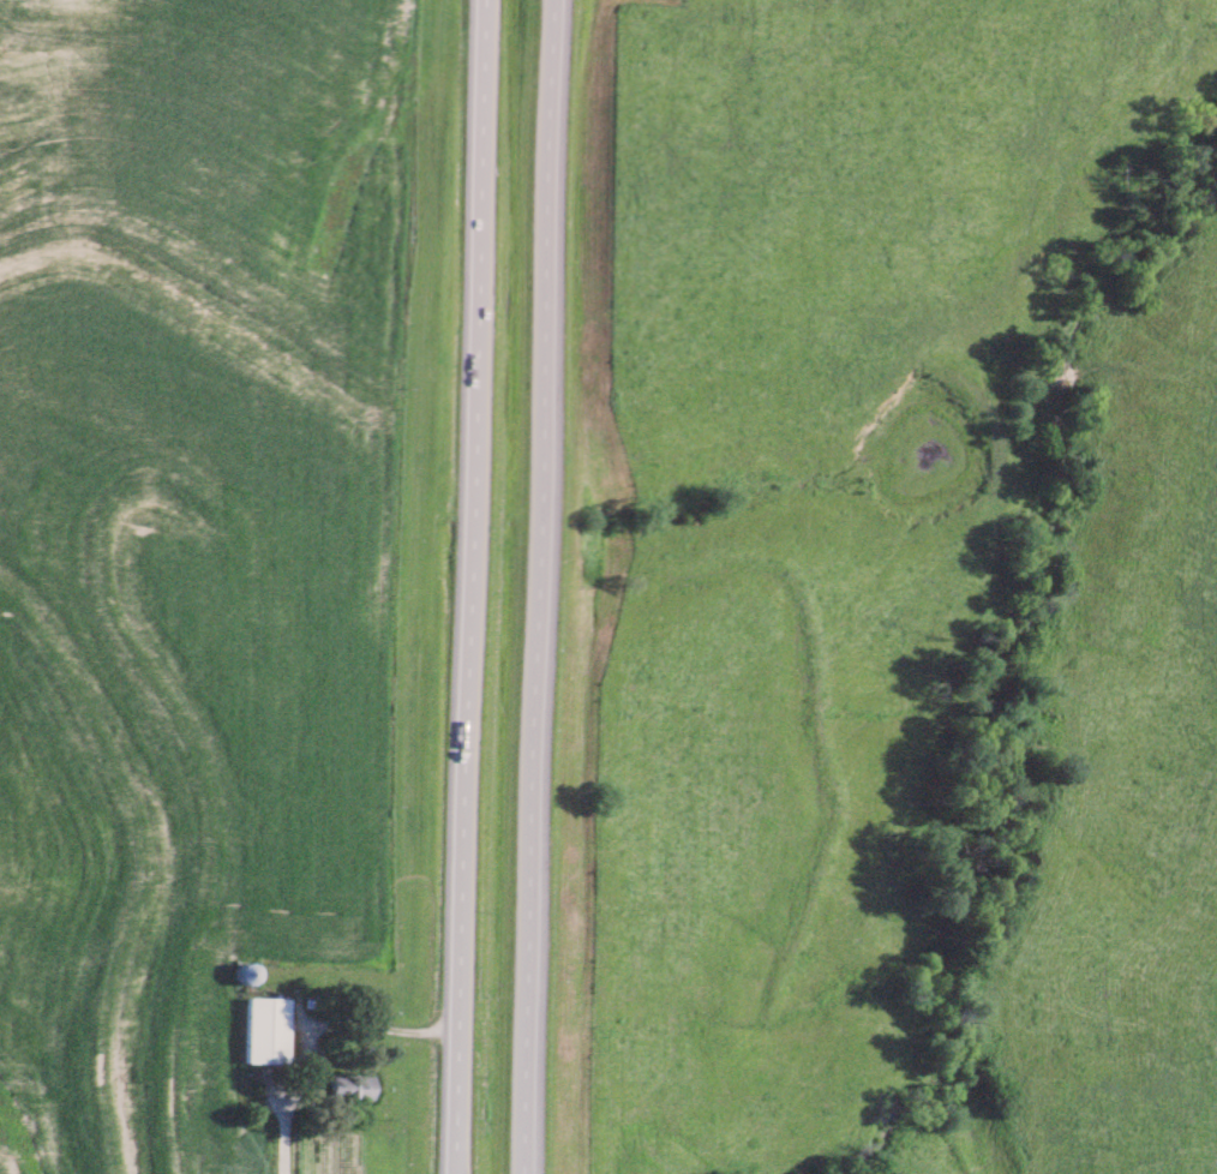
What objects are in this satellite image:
road: (470, 587)
road: (544, 587)
building: (266, 1029)
road: (313, 1031)
building: (353, 1085)

